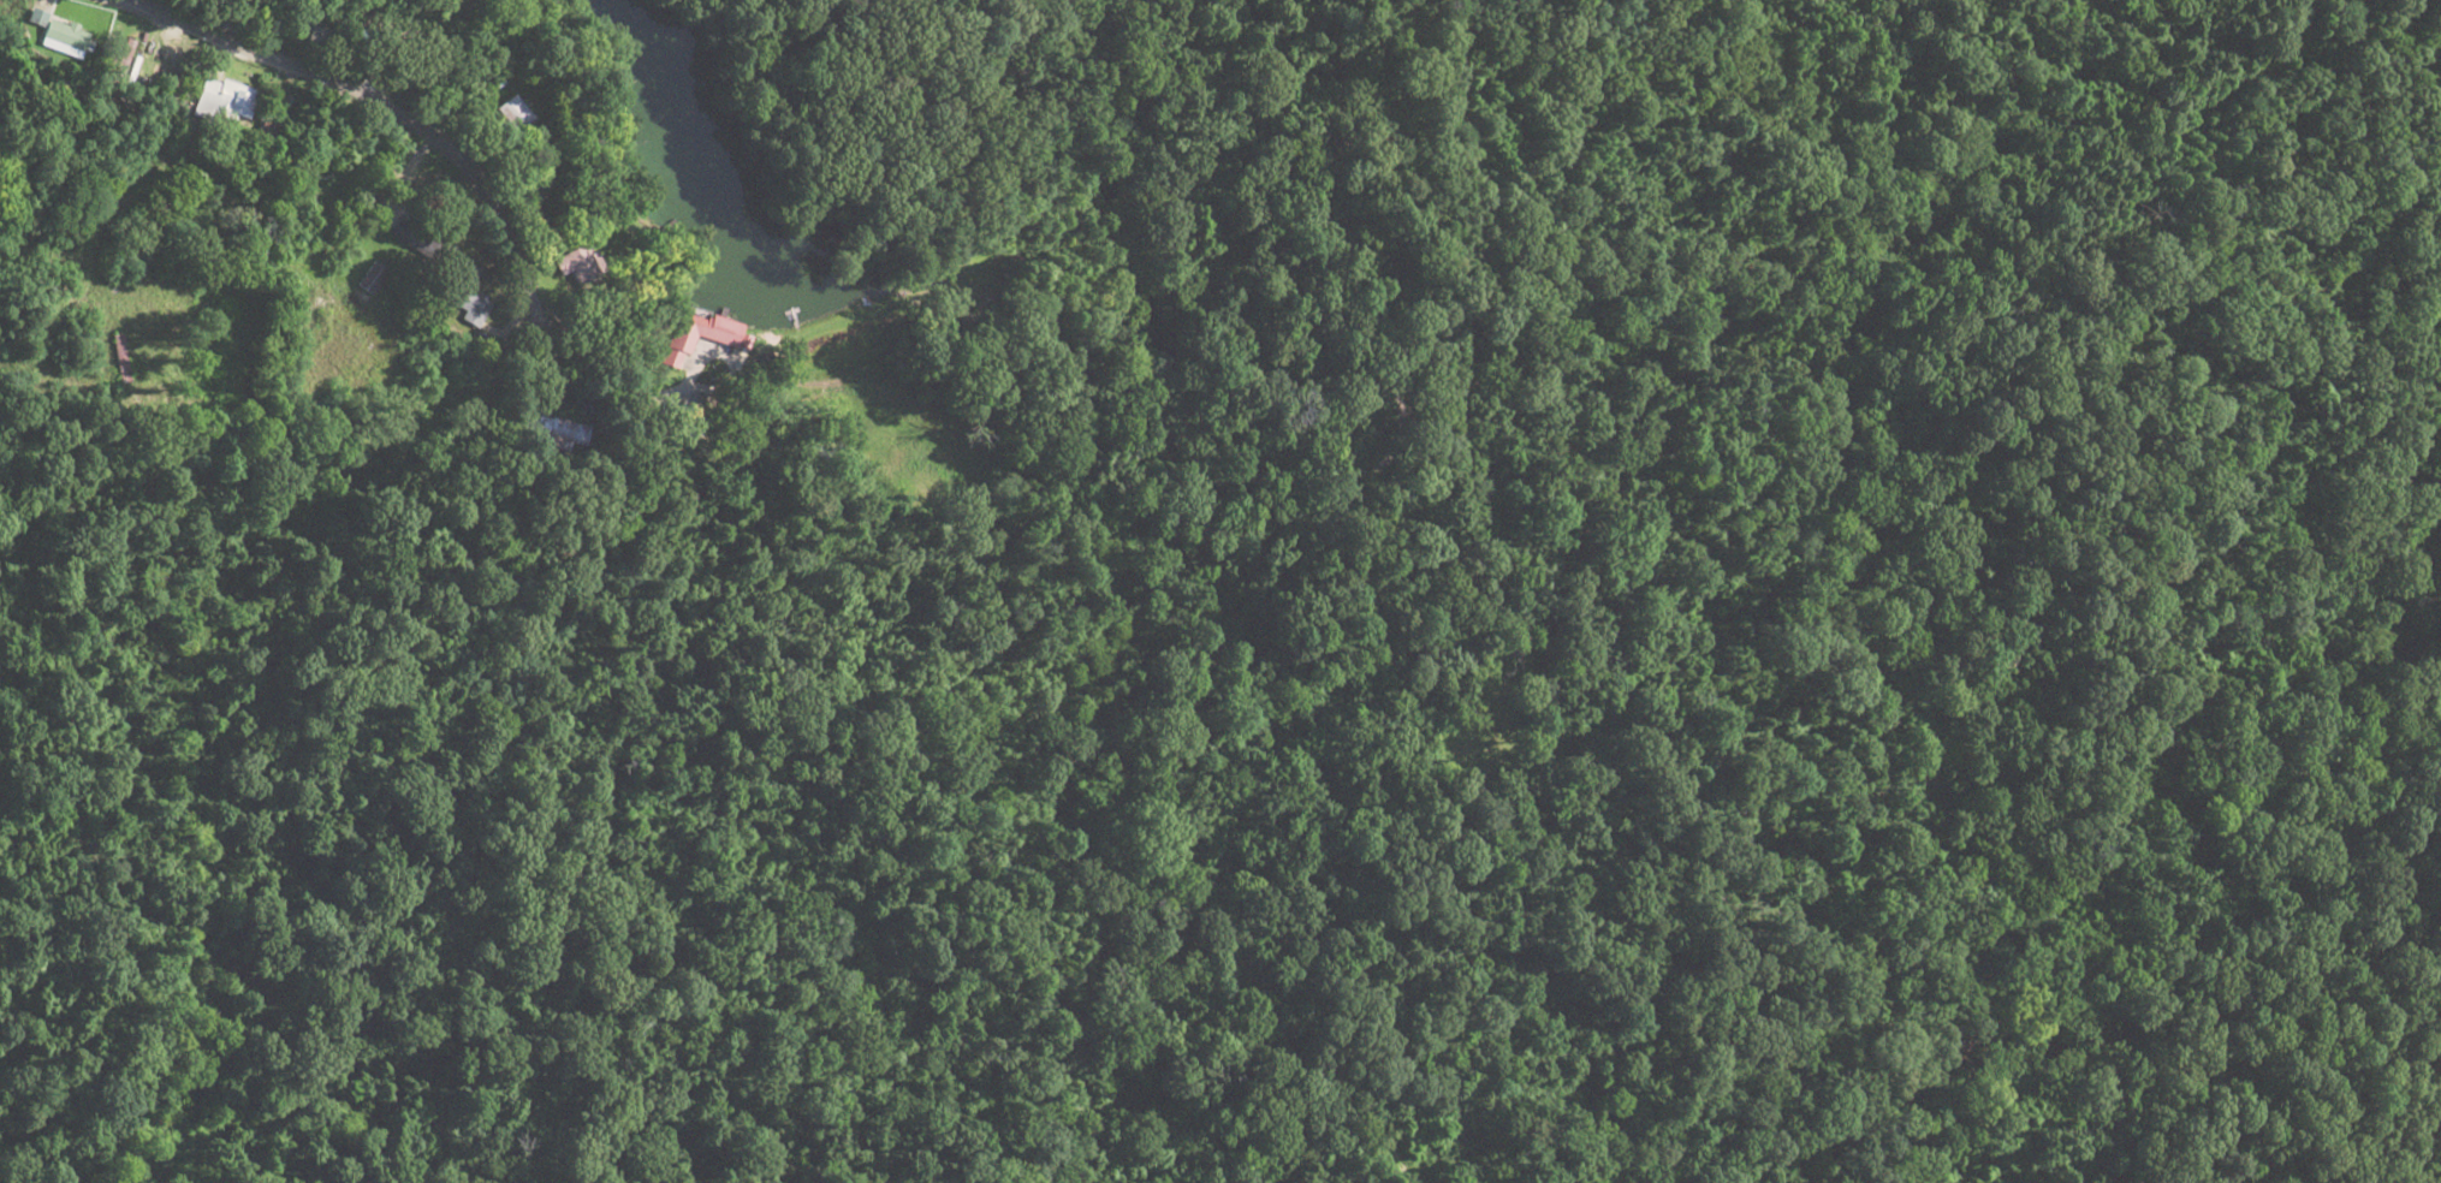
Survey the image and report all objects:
building: (58, 32)
building: (224, 99)
building: (513, 112)
road: (266, 195)
building: (416, 236)
building: (470, 304)
building: (696, 334)
building: (564, 433)

